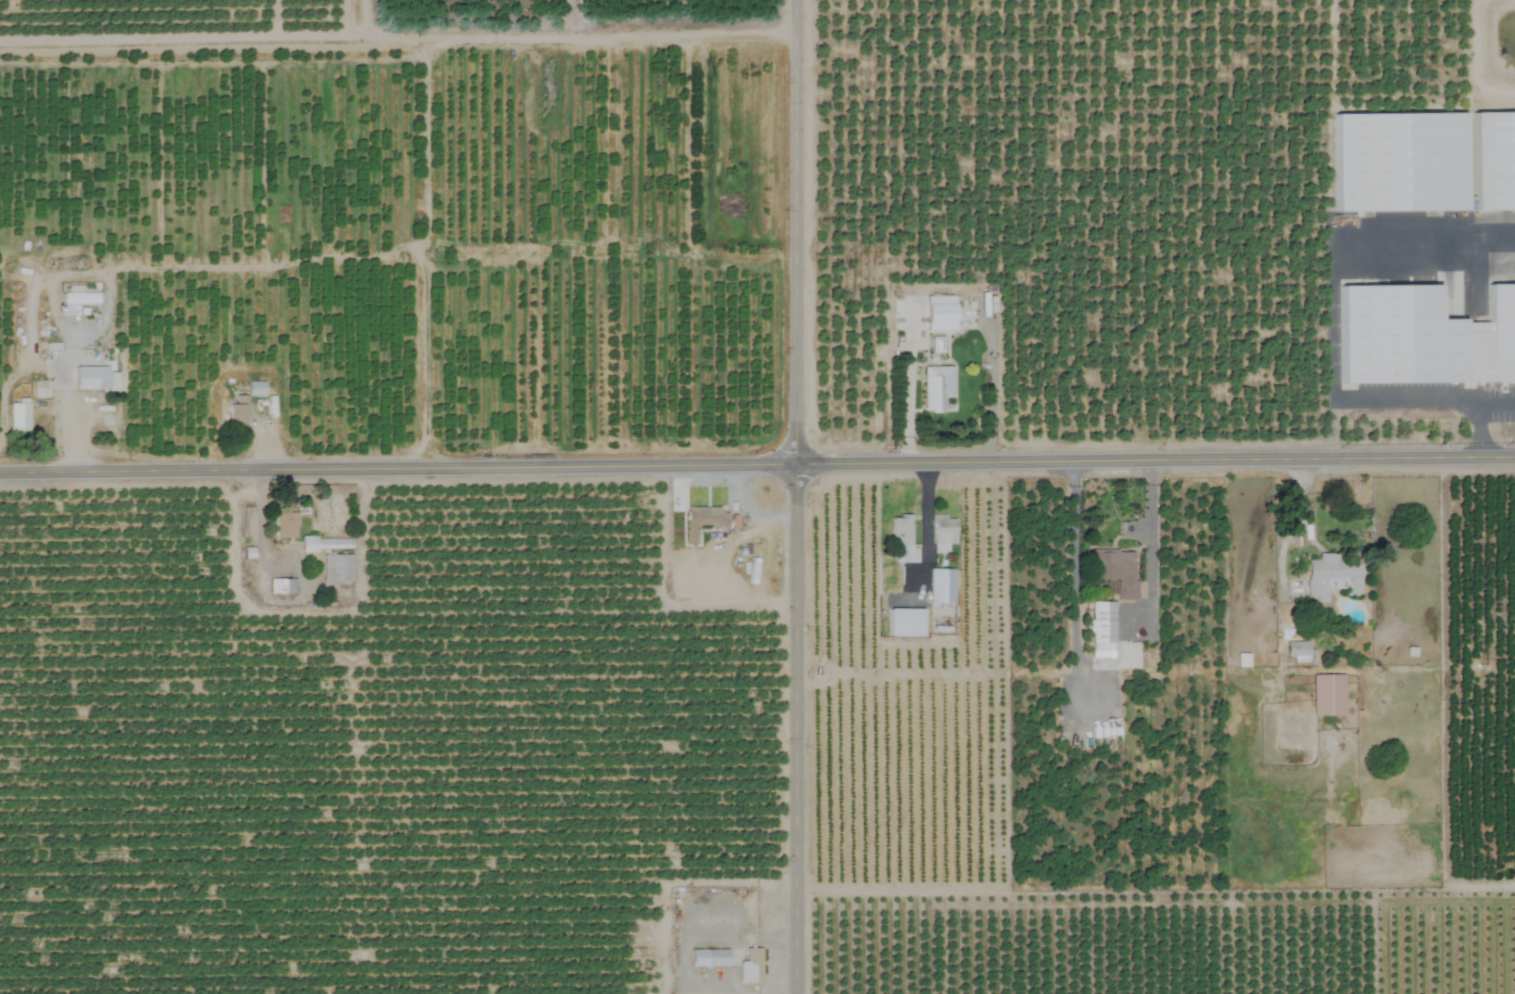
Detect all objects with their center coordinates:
road: (360, 17)
road: (399, 34)
building: (1492, 161)
road: (420, 251)
building: (78, 298)
building: (982, 298)
road: (1325, 311)
building: (937, 313)
building: (1499, 332)
building: (88, 378)
building: (934, 386)
building: (252, 388)
road: (63, 398)
road: (1495, 403)
building: (235, 410)
road: (905, 414)
building: (16, 416)
road: (1476, 431)
road: (757, 465)
road: (792, 496)
building: (701, 521)
building: (281, 524)
road: (921, 527)
building: (941, 532)
building: (900, 540)
building: (321, 543)
building: (726, 548)
building: (335, 568)
building: (1113, 569)
building: (1329, 576)
building: (279, 585)
building: (939, 585)
building: (1099, 629)
building: (1294, 652)
building: (1325, 694)
building: (706, 958)
building: (748, 966)

